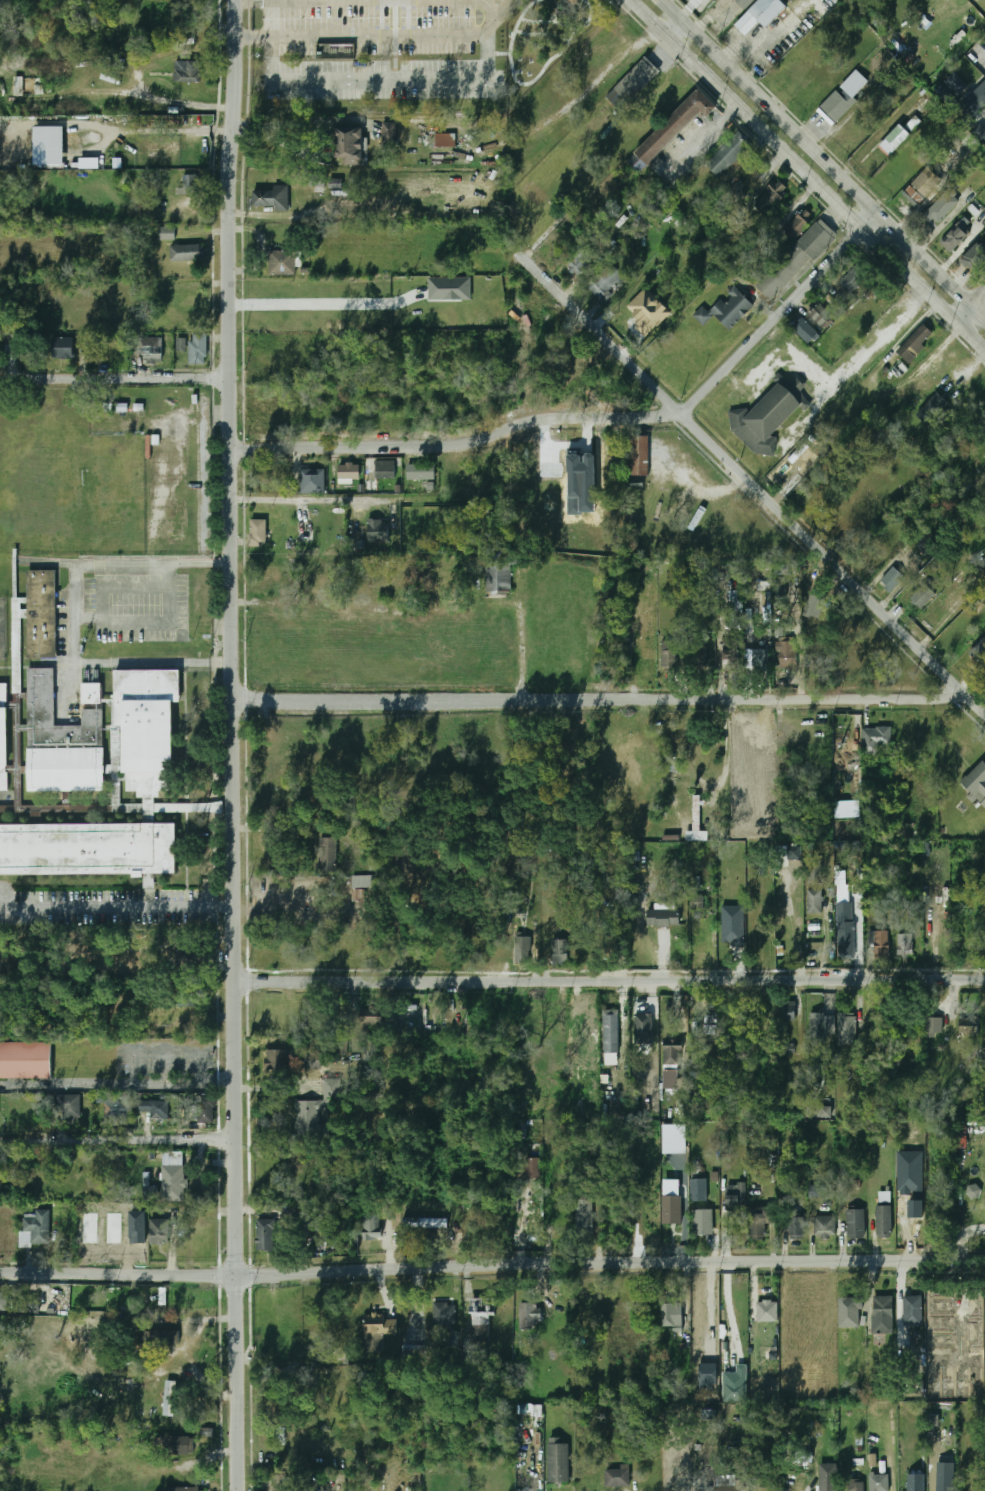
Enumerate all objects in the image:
building: (745, 2)
road: (498, 10)
building: (760, 15)
road: (411, 32)
road: (678, 32)
road: (487, 49)
building: (335, 51)
building: (186, 71)
road: (363, 78)
building: (632, 83)
building: (956, 83)
building: (853, 84)
building: (38, 85)
building: (18, 86)
building: (945, 94)
building: (976, 100)
building: (835, 106)
building: (671, 129)
building: (978, 129)
building: (388, 132)
road: (466, 133)
building: (898, 136)
road: (701, 137)
building: (850, 138)
building: (445, 140)
building: (49, 145)
building: (349, 146)
road: (815, 152)
road: (432, 153)
road: (305, 155)
building: (727, 155)
road: (792, 159)
building: (89, 164)
building: (318, 180)
building: (189, 184)
building: (921, 187)
building: (269, 198)
building: (770, 198)
building: (938, 209)
building: (984, 209)
building: (798, 224)
building: (166, 233)
building: (954, 238)
building: (186, 252)
building: (975, 257)
building: (794, 260)
building: (581, 262)
building: (281, 263)
building: (853, 278)
building: (605, 282)
building: (450, 288)
road: (975, 297)
road: (323, 303)
building: (726, 309)
building: (648, 311)
road: (777, 313)
building: (820, 315)
road: (959, 316)
road: (975, 317)
road: (911, 330)
building: (805, 332)
road: (968, 340)
building: (915, 342)
building: (182, 344)
building: (197, 349)
building: (153, 350)
building: (68, 354)
building: (16, 356)
road: (112, 377)
building: (931, 408)
building: (768, 415)
building: (984, 418)
road: (455, 443)
building: (638, 455)
building: (348, 472)
building: (420, 472)
building: (377, 473)
building: (312, 481)
building: (581, 482)
road: (753, 486)
road: (310, 498)
building: (377, 531)
building: (256, 533)
building: (928, 545)
building: (983, 568)
building: (782, 569)
building: (499, 570)
building: (890, 579)
building: (923, 596)
building: (735, 601)
building: (815, 603)
building: (41, 612)
road: (75, 614)
building: (17, 638)
building: (979, 650)
road: (519, 652)
building: (669, 655)
building: (788, 656)
building: (698, 658)
building: (761, 659)
building: (730, 660)
road: (62, 685)
road: (595, 699)
building: (146, 726)
building: (3, 736)
building: (63, 738)
building: (874, 739)
road: (229, 745)
road: (728, 745)
building: (976, 783)
building: (696, 813)
building: (87, 848)
building: (327, 849)
building: (788, 853)
building: (815, 901)
building: (697, 903)
road: (114, 905)
building: (663, 918)
building: (733, 925)
road: (800, 926)
building: (845, 931)
building: (878, 945)
building: (904, 946)
building: (523, 948)
building: (559, 953)
road: (607, 981)
building: (787, 1012)
building: (369, 1017)
building: (846, 1026)
building: (934, 1026)
building: (968, 1026)
building: (642, 1031)
building: (819, 1033)
building: (610, 1034)
building: (672, 1058)
building: (25, 1060)
building: (310, 1060)
building: (277, 1061)
building: (66, 1108)
building: (155, 1109)
building: (819, 1109)
building: (113, 1110)
building: (205, 1110)
building: (312, 1116)
building: (675, 1139)
road: (115, 1140)
building: (532, 1167)
building: (173, 1183)
building: (150, 1191)
building: (815, 1191)
building: (973, 1191)
building: (672, 1201)
building: (700, 1205)
building: (734, 1207)
building: (584, 1217)
building: (883, 1221)
building: (424, 1222)
building: (855, 1223)
building: (758, 1224)
building: (372, 1226)
building: (137, 1227)
building: (824, 1227)
building: (90, 1228)
building: (114, 1228)
building: (796, 1228)
building: (35, 1229)
building: (158, 1232)
building: (264, 1235)
road: (492, 1264)
building: (3, 1299)
building: (28, 1305)
road: (730, 1310)
building: (767, 1311)
building: (912, 1311)
building: (849, 1312)
building: (443, 1313)
building: (529, 1314)
building: (674, 1314)
building: (883, 1315)
building: (481, 1319)
building: (965, 1319)
building: (380, 1325)
building: (158, 1338)
building: (736, 1385)
building: (170, 1398)
building: (176, 1444)
building: (558, 1463)
building: (617, 1477)
building: (828, 1477)
building: (916, 1482)
building: (879, 1483)
building: (288, 1486)
building: (856, 1486)
building: (945, 1486)
building: (731, 1488)
building: (184, 1489)

